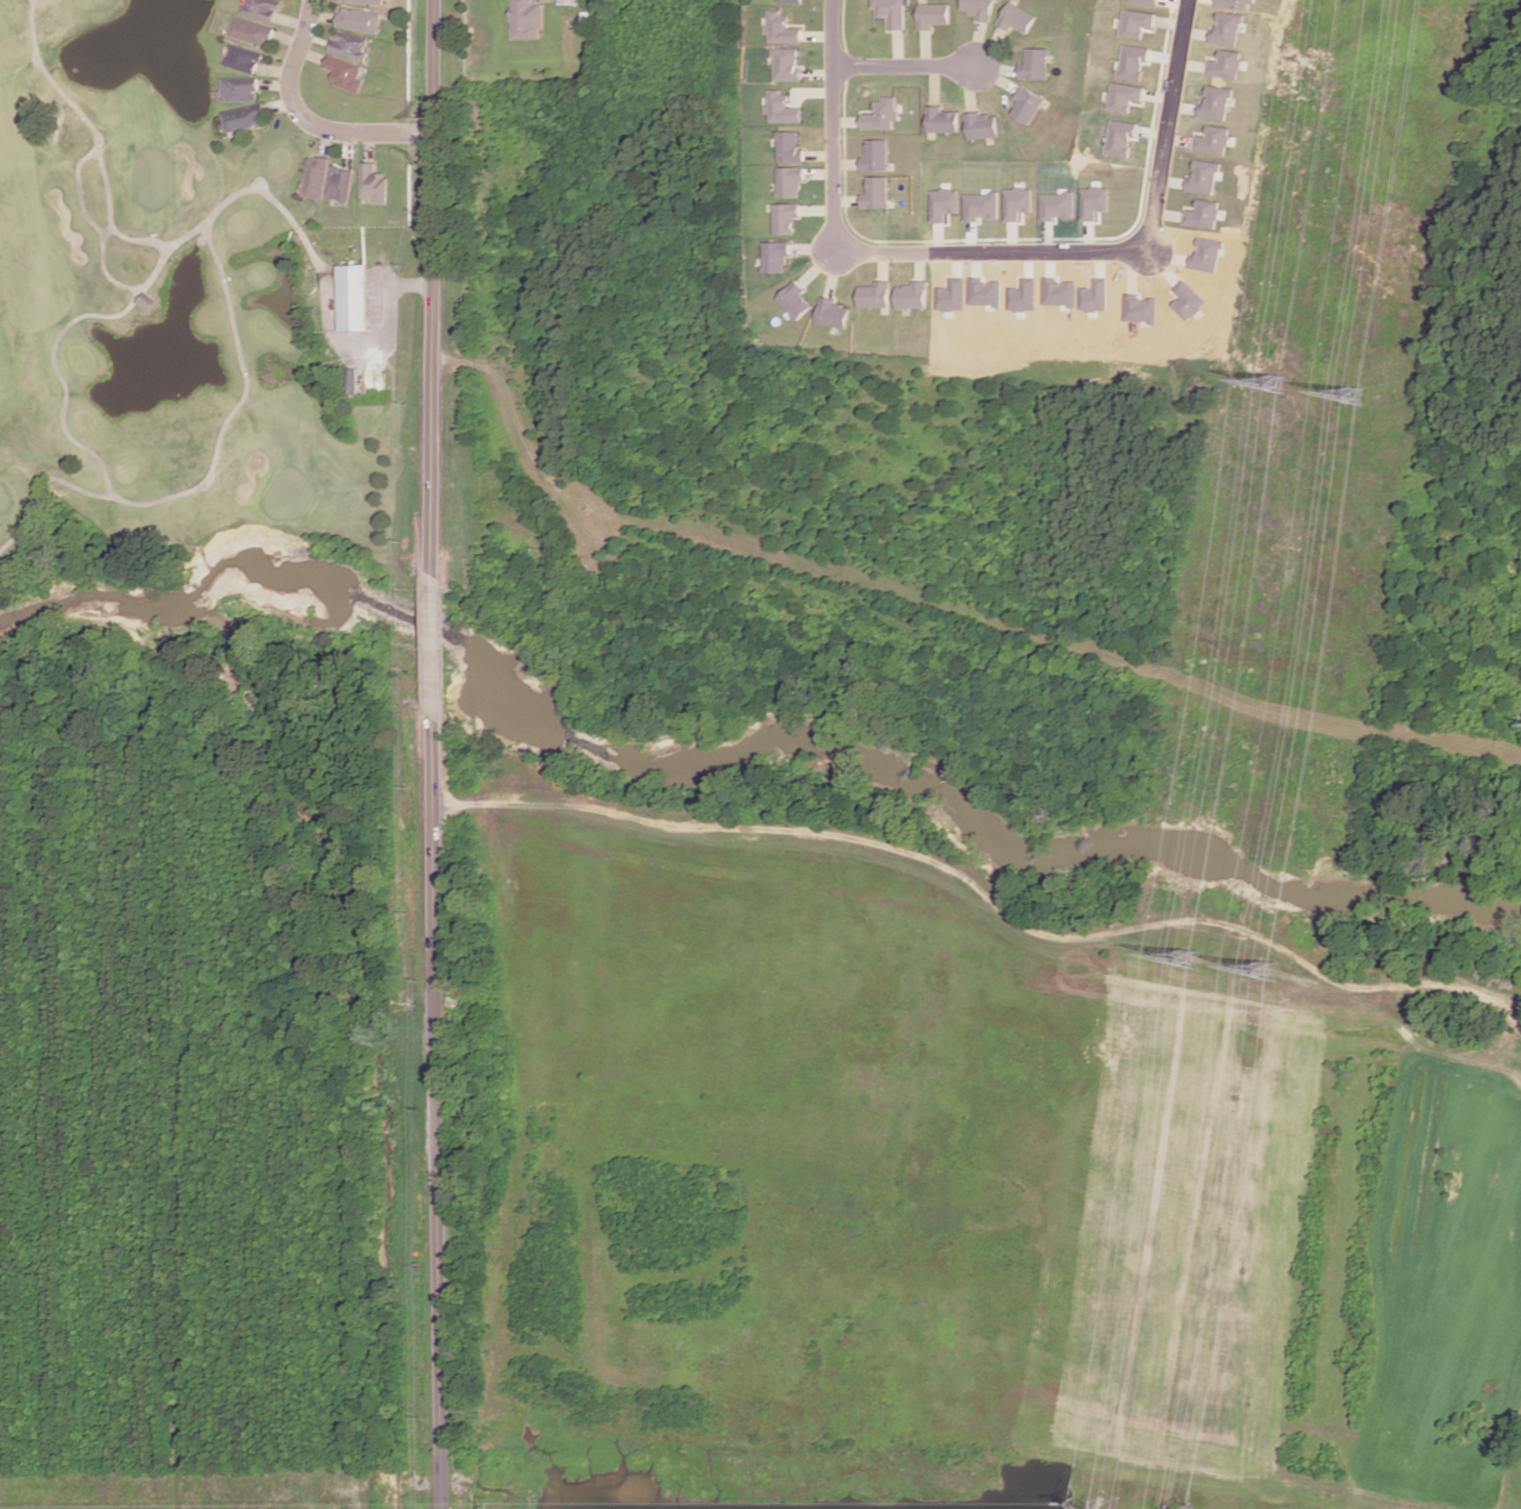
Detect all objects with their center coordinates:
building: (365, 1)
building: (569, 1)
building: (793, 1)
building: (1146, 2)
building: (1235, 4)
building: (262, 9)
building: (979, 9)
building: (893, 12)
building: (934, 15)
building: (1017, 18)
building: (358, 19)
building: (526, 19)
building: (1136, 22)
building: (783, 28)
building: (1227, 28)
building: (250, 30)
road: (978, 42)
building: (350, 44)
road: (991, 46)
road: (900, 47)
road: (928, 47)
building: (243, 58)
building: (1134, 61)
building: (787, 64)
building: (1035, 64)
building: (1226, 64)
road: (904, 65)
road: (997, 66)
building: (345, 72)
road: (996, 75)
road: (936, 83)
road: (969, 86)
building: (238, 89)
building: (1125, 96)
building: (1217, 102)
building: (1027, 104)
building: (783, 107)
building: (883, 114)
building: (244, 116)
building: (943, 119)
road: (309, 121)
building: (982, 125)
building: (1123, 137)
building: (1214, 140)
building: (790, 147)
road: (821, 153)
building: (876, 155)
road: (848, 162)
road: (834, 169)
road: (821, 172)
building: (315, 176)
building: (1205, 177)
building: (790, 180)
building: (340, 183)
building: (373, 183)
building: (876, 192)
road: (848, 199)
building: (1096, 201)
building: (1018, 202)
building: (944, 203)
building: (981, 205)
building: (1058, 205)
road: (818, 208)
building: (1205, 214)
building: (786, 217)
road: (848, 218)
road: (1152, 231)
road: (815, 247)
building: (776, 256)
road: (820, 264)
road: (884, 264)
road: (921, 264)
road: (834, 270)
road: (415, 282)
building: (985, 292)
building: (1060, 292)
building: (874, 295)
building: (911, 295)
building: (952, 295)
building: (1024, 295)
building: (1096, 295)
building: (353, 297)
building: (795, 299)
building: (1189, 300)
building: (146, 301)
road: (389, 305)
building: (1142, 308)
building: (833, 313)
building: (352, 380)
power tower: (1278, 388)
power tower: (1356, 399)
road: (441, 754)
power tower: (1195, 960)
power tower: (1272, 973)

